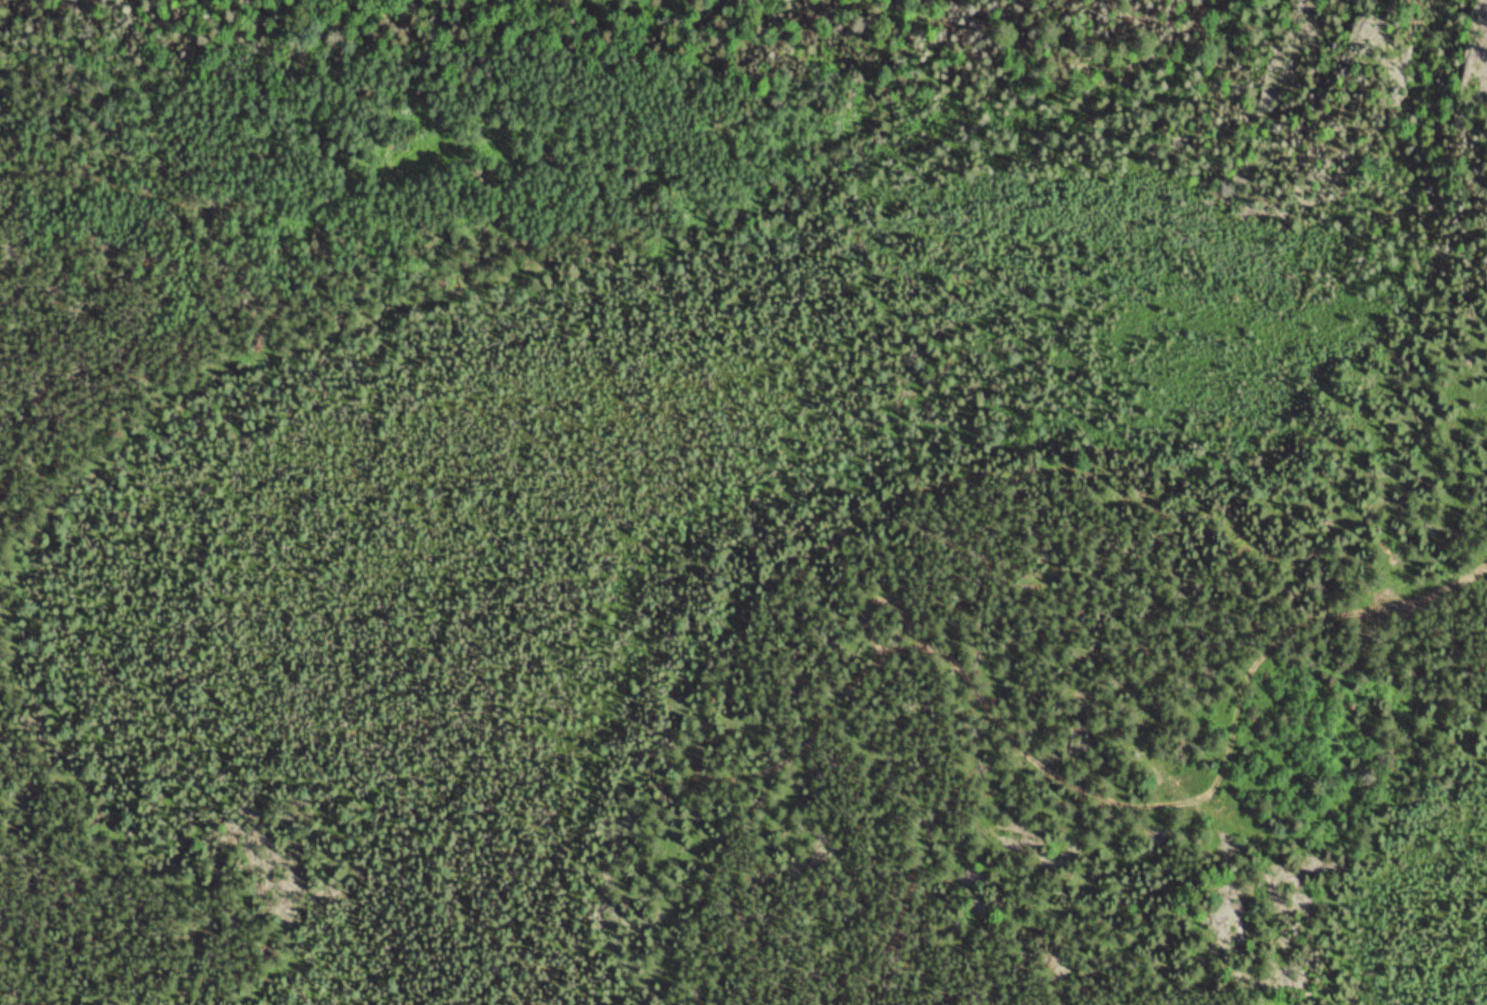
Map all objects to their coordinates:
road: (1217, 771)
road: (951, 861)

